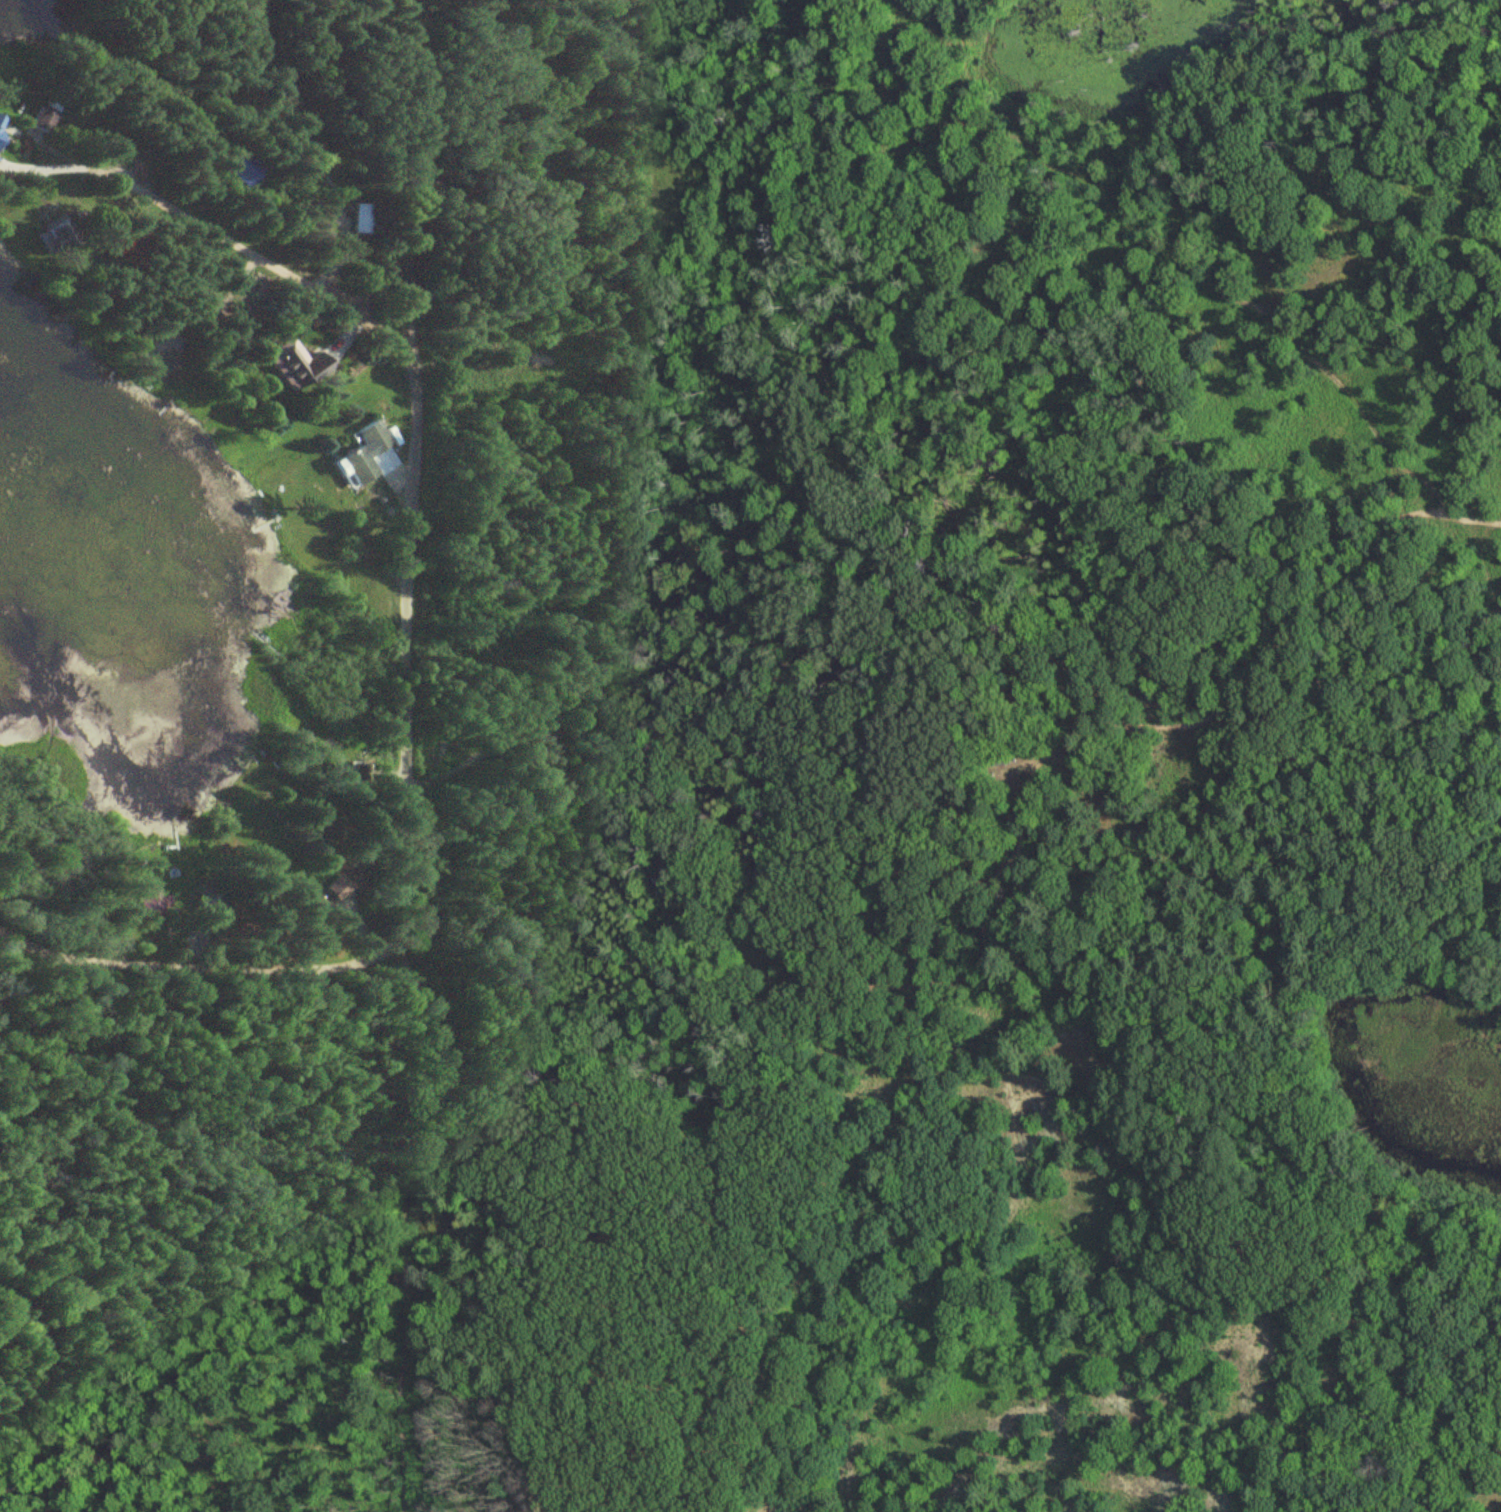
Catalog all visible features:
building: (42, 117)
building: (2, 123)
building: (363, 218)
building: (60, 235)
road: (257, 258)
building: (295, 363)
building: (364, 451)
building: (358, 772)
building: (322, 829)
road: (409, 859)
building: (152, 904)
building: (212, 906)

